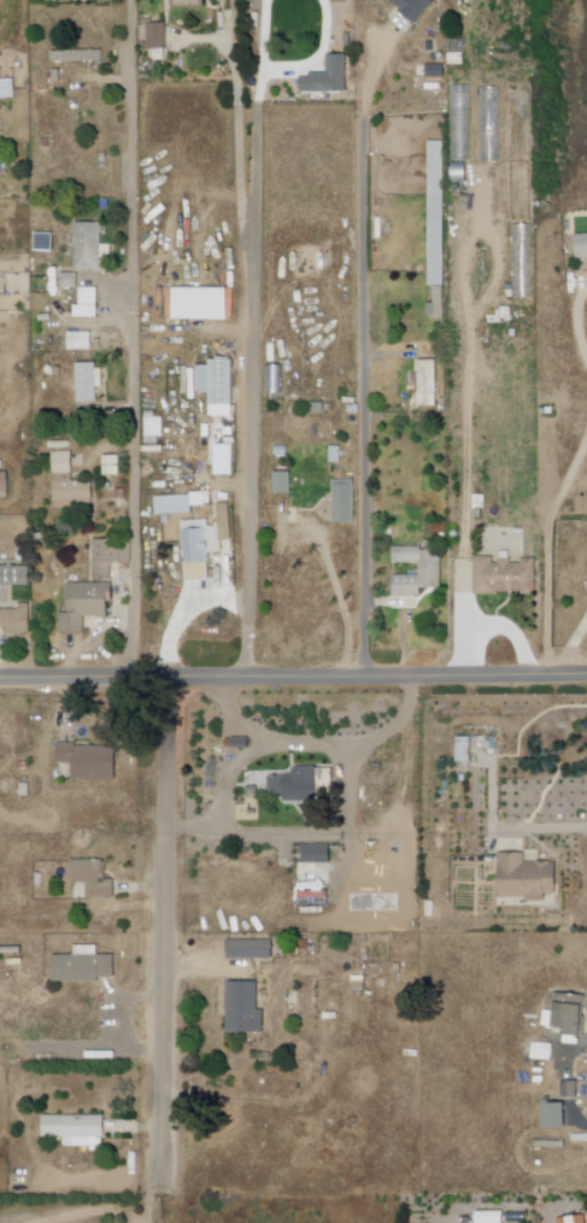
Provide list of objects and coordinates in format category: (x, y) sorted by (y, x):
building: (188, 2)
building: (411, 7)
building: (155, 39)
building: (347, 41)
building: (75, 55)
building: (434, 70)
building: (325, 77)
building: (7, 89)
road: (240, 156)
road: (43, 197)
building: (435, 213)
building: (580, 246)
building: (89, 247)
building: (522, 261)
building: (67, 281)
building: (86, 300)
building: (198, 302)
road: (580, 318)
road: (253, 338)
road: (137, 339)
building: (80, 341)
road: (364, 352)
building: (87, 382)
building: (216, 382)
building: (428, 385)
building: (282, 452)
building: (335, 456)
building: (110, 466)
building: (281, 482)
building: (4, 486)
building: (69, 486)
building: (342, 502)
building: (480, 504)
building: (202, 544)
road: (550, 555)
building: (107, 557)
building: (429, 569)
building: (14, 577)
building: (504, 577)
building: (84, 605)
building: (16, 622)
road: (293, 677)
building: (239, 742)
building: (463, 749)
building: (86, 761)
building: (295, 785)
road: (542, 830)
road: (243, 839)
building: (315, 855)
building: (524, 878)
building: (93, 882)
road: (160, 929)
building: (248, 949)
building: (82, 967)
building: (241, 1008)
building: (564, 1016)
building: (541, 1049)
building: (568, 1087)
building: (553, 1113)
building: (76, 1130)
road: (151, 1200)
building: (487, 1216)
building: (573, 1219)

